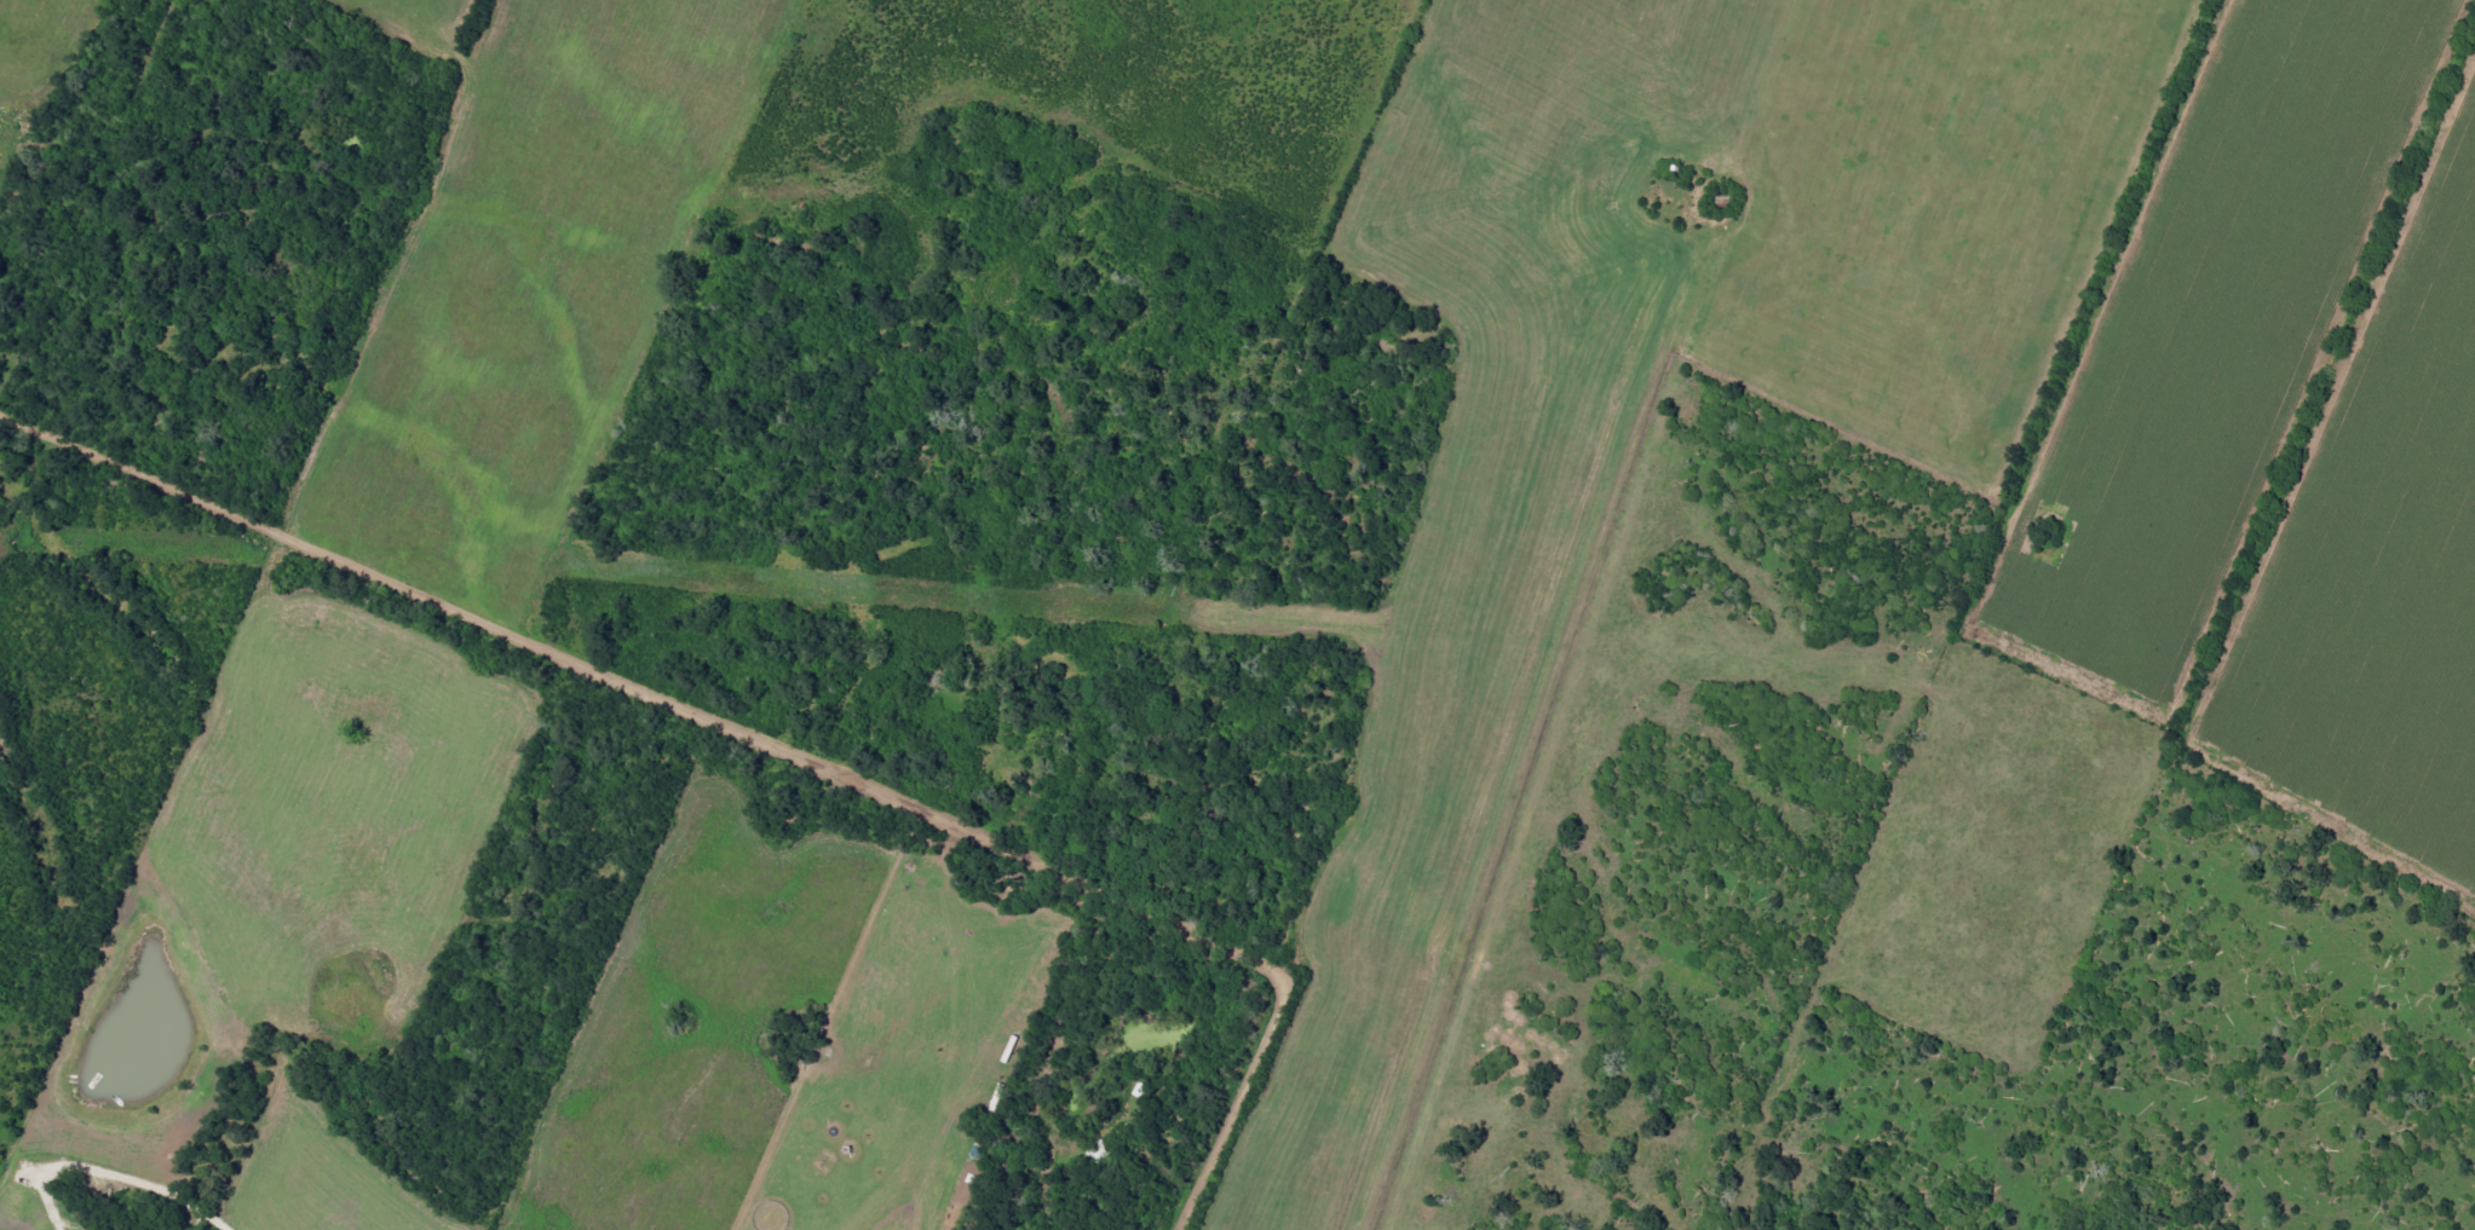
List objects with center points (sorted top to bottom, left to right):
road: (1348, 489)
road: (260, 530)
road: (707, 724)
road: (109, 1179)

